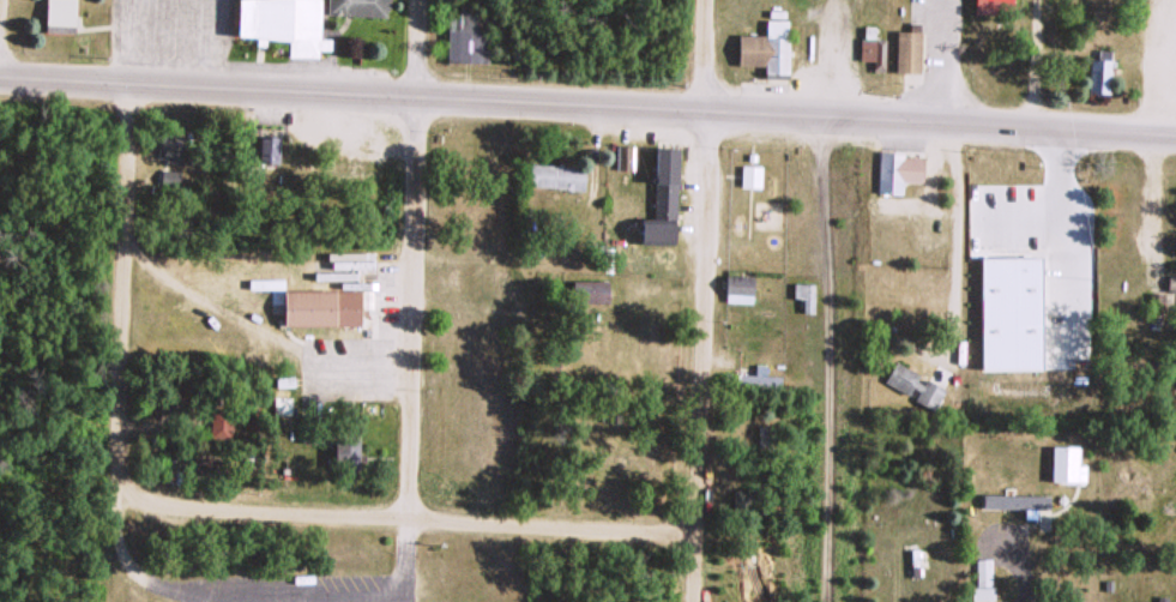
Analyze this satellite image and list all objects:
building: (358, 7)
building: (991, 7)
building: (59, 16)
building: (281, 24)
building: (466, 36)
parking lot: (939, 37)
building: (765, 48)
building: (872, 48)
building: (907, 52)
road: (824, 58)
road: (940, 60)
building: (1103, 70)
road: (587, 103)
building: (171, 143)
building: (270, 148)
building: (898, 169)
building: (750, 174)
building: (555, 175)
building: (170, 176)
building: (659, 199)
road: (414, 258)
road: (123, 281)
building: (1170, 281)
building: (474, 285)
building: (737, 287)
building: (589, 290)
building: (803, 293)
road: (699, 300)
building: (535, 305)
building: (307, 306)
road: (828, 357)
building: (759, 379)
building: (1012, 383)
building: (913, 385)
building: (345, 452)
building: (1014, 499)
road: (403, 514)
road: (117, 534)
building: (917, 558)
building: (983, 570)
parking lot: (356, 583)
road: (314, 590)
road: (230, 595)
road: (284, 596)
road: (320, 596)
building: (1162, 597)
road: (404, 598)
parking lot: (294, 600)

